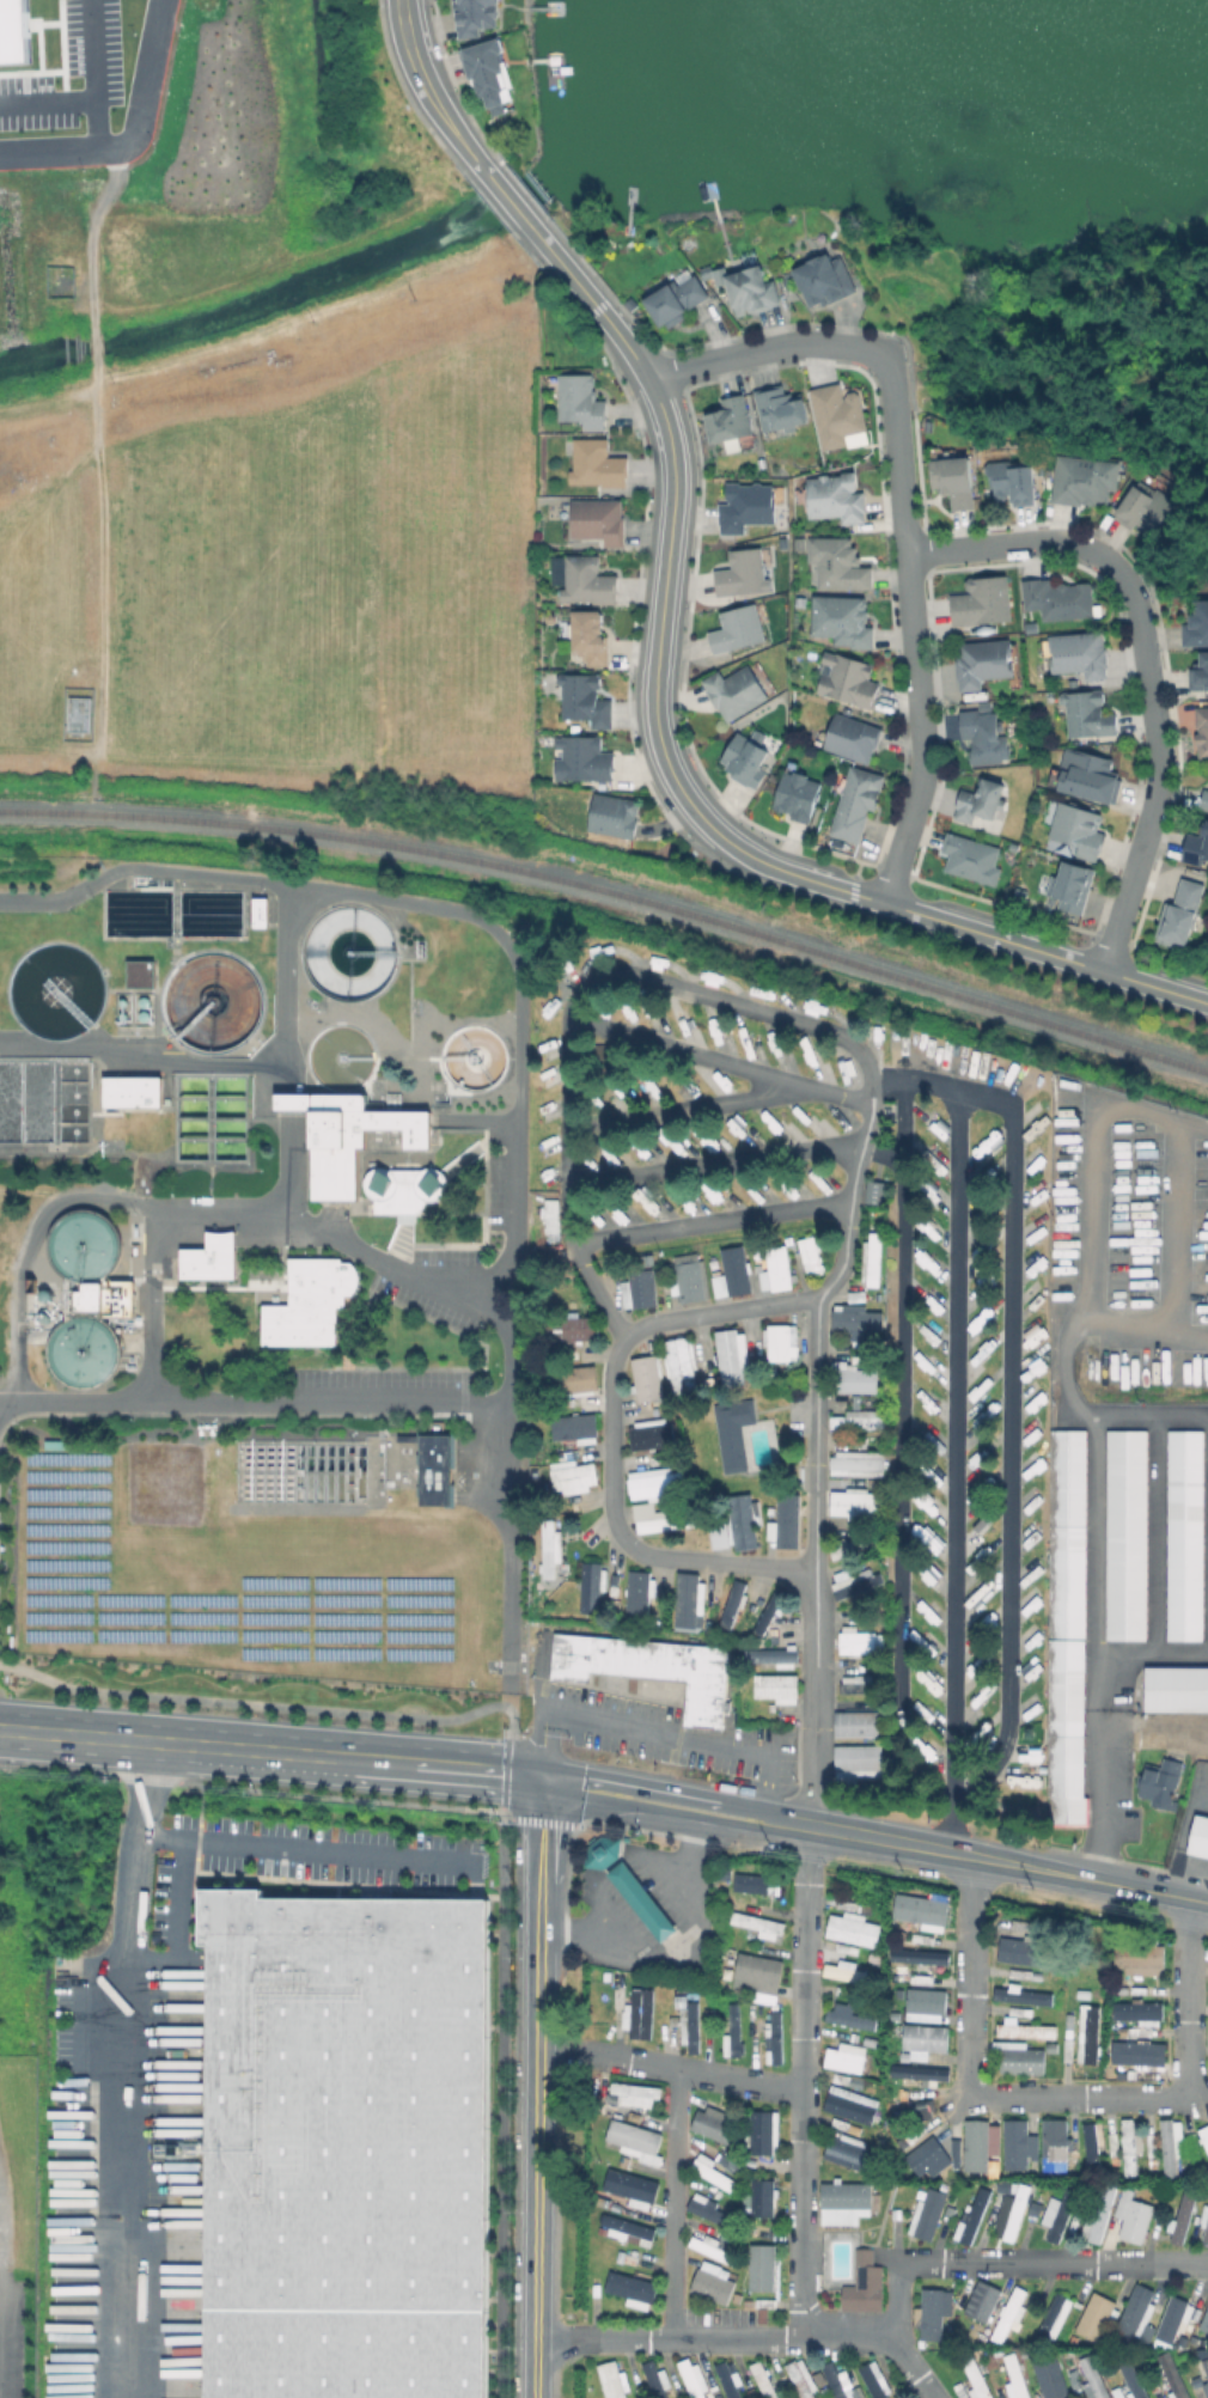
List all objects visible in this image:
building: (477, 13)
building: (16, 35)
building: (488, 73)
road: (96, 75)
road: (427, 90)
road: (48, 103)
road: (133, 136)
road: (505, 196)
road: (91, 232)
building: (825, 275)
building: (754, 292)
building: (673, 298)
road: (94, 347)
road: (763, 350)
building: (581, 402)
building: (785, 410)
building: (837, 411)
building: (731, 420)
building: (931, 423)
building: (597, 464)
building: (1085, 476)
building: (956, 477)
building: (1013, 478)
building: (835, 495)
building: (1145, 505)
building: (748, 507)
building: (600, 521)
building: (799, 542)
road: (102, 560)
building: (837, 560)
building: (554, 569)
building: (744, 574)
building: (588, 581)
road: (664, 590)
building: (1058, 596)
building: (983, 598)
building: (801, 602)
building: (844, 617)
building: (1196, 621)
building: (1033, 626)
building: (738, 631)
road: (911, 631)
building: (590, 640)
building: (1080, 649)
building: (981, 659)
road: (1145, 660)
building: (1197, 670)
building: (847, 682)
building: (736, 692)
building: (586, 701)
building: (1090, 715)
building: (1201, 728)
building: (986, 738)
building: (854, 739)
building: (585, 761)
building: (744, 761)
building: (1088, 776)
building: (798, 797)
building: (983, 797)
building: (1204, 801)
building: (855, 807)
building: (612, 817)
building: (1079, 830)
building: (1196, 852)
building: (972, 859)
building: (1073, 887)
railway: (612, 895)
building: (262, 914)
building: (1180, 915)
road: (1030, 948)
building: (142, 975)
road: (734, 1001)
building: (713, 1026)
road: (721, 1061)
road: (227, 1062)
building: (134, 1093)
road: (677, 1110)
building: (331, 1129)
building: (354, 1140)
road: (518, 1158)
road: (714, 1164)
building: (402, 1188)
building: (872, 1191)
road: (194, 1203)
road: (1085, 1212)
building: (554, 1219)
road: (712, 1221)
building: (809, 1255)
building: (871, 1258)
building: (212, 1259)
building: (774, 1269)
building: (730, 1273)
building: (695, 1283)
wastewater plant: (262, 1288)
building: (641, 1294)
building: (104, 1300)
road: (146, 1302)
building: (310, 1305)
road: (719, 1311)
building: (853, 1317)
building: (573, 1332)
building: (777, 1342)
building: (80, 1350)
building: (728, 1355)
building: (683, 1366)
building: (853, 1379)
building: (647, 1380)
building: (580, 1383)
road: (899, 1387)
building: (853, 1421)
road: (951, 1422)
road: (1015, 1427)
building: (578, 1430)
building: (731, 1433)
building: (652, 1436)
building: (854, 1463)
building: (438, 1469)
road: (1092, 1477)
building: (575, 1479)
building: (654, 1482)
building: (852, 1503)
building: (783, 1520)
building: (665, 1523)
building: (1124, 1533)
building: (1183, 1534)
road: (508, 1542)
building: (841, 1549)
building: (553, 1554)
building: (853, 1580)
building: (593, 1589)
building: (640, 1595)
building: (728, 1603)
building: (690, 1604)
building: (1068, 1631)
building: (856, 1642)
road: (1152, 1652)
building: (768, 1656)
building: (647, 1668)
building: (853, 1684)
road: (1100, 1685)
building: (773, 1686)
building: (1175, 1689)
road: (269, 1704)
building: (854, 1723)
road: (648, 1732)
road: (1099, 1747)
road: (270, 1753)
building: (855, 1761)
road: (506, 1770)
traffic signals: (541, 1777)
building: (1158, 1782)
road: (628, 1786)
road: (627, 1805)
road: (763, 1811)
road: (763, 1830)
building: (1198, 1837)
road: (311, 1847)
road: (927, 1848)
building: (629, 1881)
road: (1094, 1881)
building: (750, 1883)
road: (1176, 1897)
building: (917, 1910)
building: (755, 1923)
building: (849, 1930)
road: (676, 1948)
building: (1018, 1951)
building: (916, 1955)
building: (1137, 1959)
road: (122, 1969)
building: (848, 1975)
building: (756, 1976)
building: (1019, 1995)
building: (922, 2005)
building: (1135, 2009)
building: (636, 2013)
building: (847, 2019)
building: (1023, 2030)
building: (731, 2031)
building: (1085, 2033)
building: (771, 2037)
building: (921, 2039)
building: (1207, 2039)
building: (1135, 2052)
building: (842, 2057)
building: (1018, 2058)
road: (670, 2069)
building: (917, 2071)
road: (804, 2082)
road: (537, 2087)
building: (630, 2094)
road: (1056, 2097)
road: (502, 2101)
building: (848, 2104)
building: (709, 2123)
building: (761, 2131)
building: (1203, 2137)
building: (632, 2140)
building: (1090, 2142)
building: (977, 2143)
building: (344, 2144)
building: (1017, 2144)
building: (1053, 2144)
building: (1169, 2146)
building: (1127, 2147)
building: (847, 2152)
building: (953, 2152)
building: (925, 2159)
building: (707, 2171)
building: (628, 2184)
building: (759, 2197)
building: (842, 2202)
road: (672, 2204)
building: (703, 2208)
building: (1015, 2213)
building: (928, 2214)
building: (1062, 2214)
building: (1099, 2215)
building: (1184, 2216)
building: (972, 2217)
building: (1135, 2219)
building: (1206, 2219)
building: (626, 2229)
building: (1207, 2237)
building: (709, 2247)
road: (1014, 2264)
building: (759, 2266)
building: (710, 2282)
building: (861, 2283)
building: (629, 2289)
road: (120, 2296)
building: (984, 2305)
building: (933, 2315)
building: (1011, 2317)
building: (1177, 2317)
building: (1097, 2318)
building: (1136, 2319)
building: (1055, 2320)
building: (1204, 2325)
road: (746, 2339)
building: (1207, 2367)
building: (1110, 2370)
building: (654, 2378)
building: (690, 2378)
building: (803, 2378)
building: (977, 2378)
building: (1017, 2378)
building: (1096, 2378)
building: (727, 2379)
building: (761, 2379)
building: (1175, 2379)
building: (611, 2380)
building: (872, 2380)
building: (1051, 2380)
building: (1135, 2381)
building: (837, 2382)
building: (1076, 2384)
building: (962, 2390)
building: (1000, 2390)

